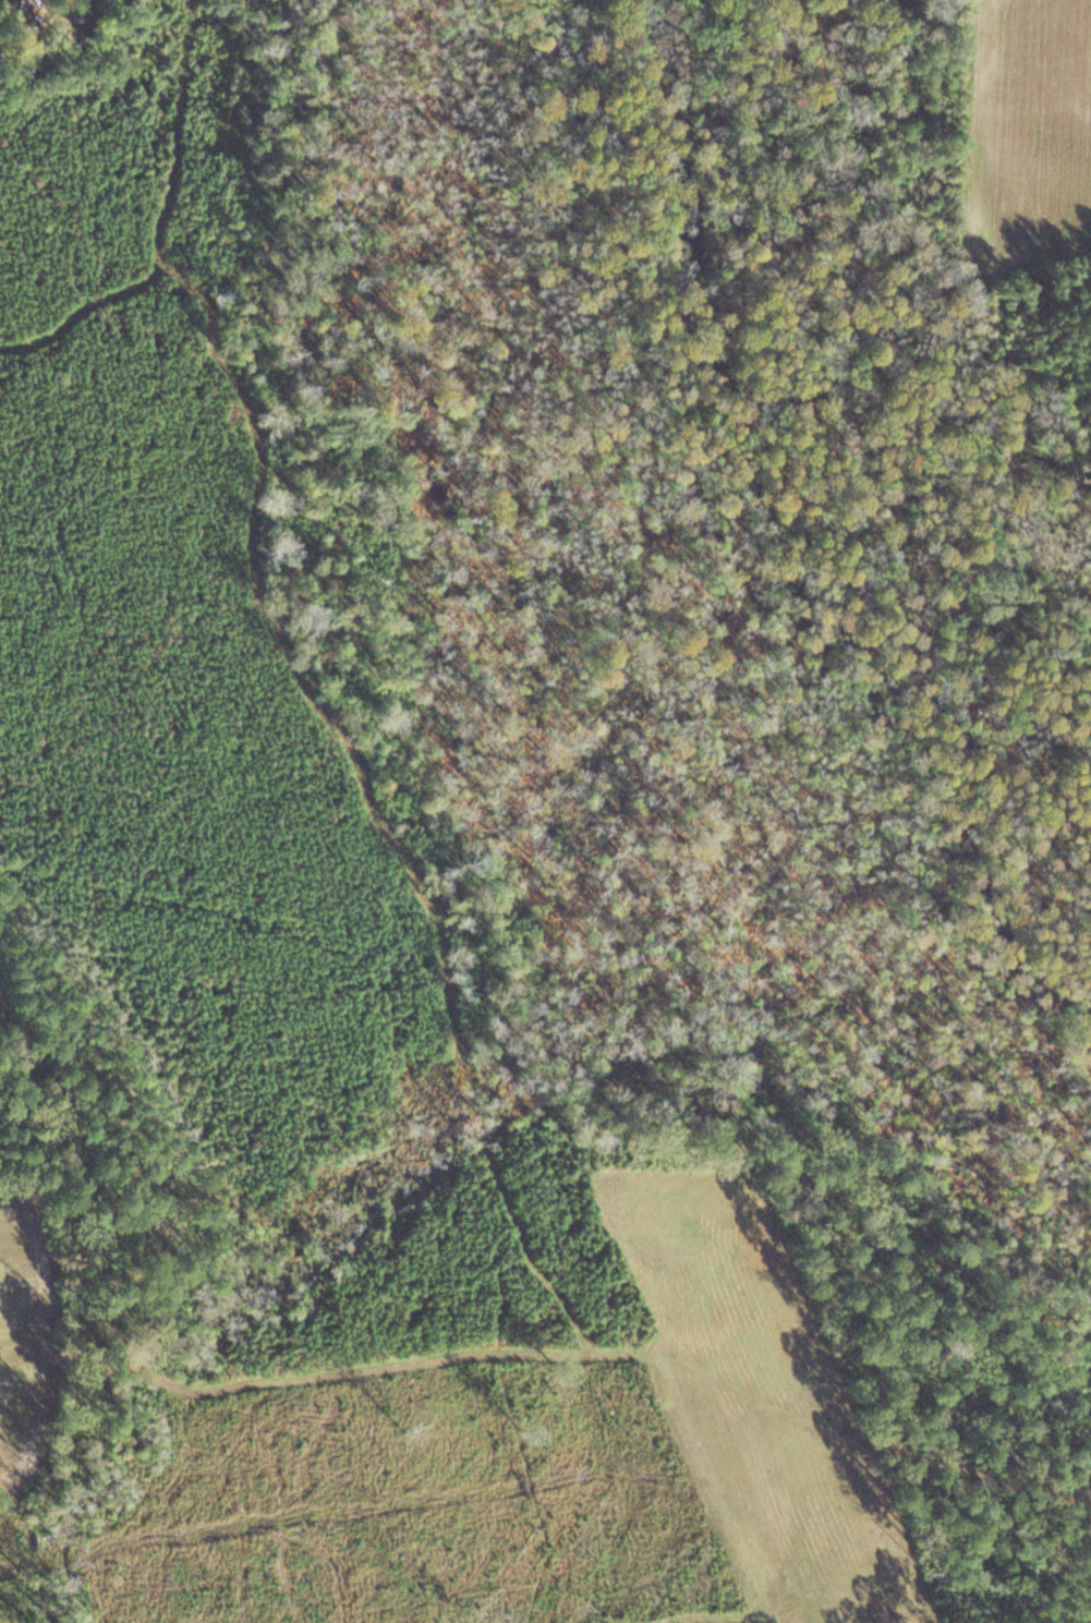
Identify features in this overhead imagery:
road: (10, 1476)

